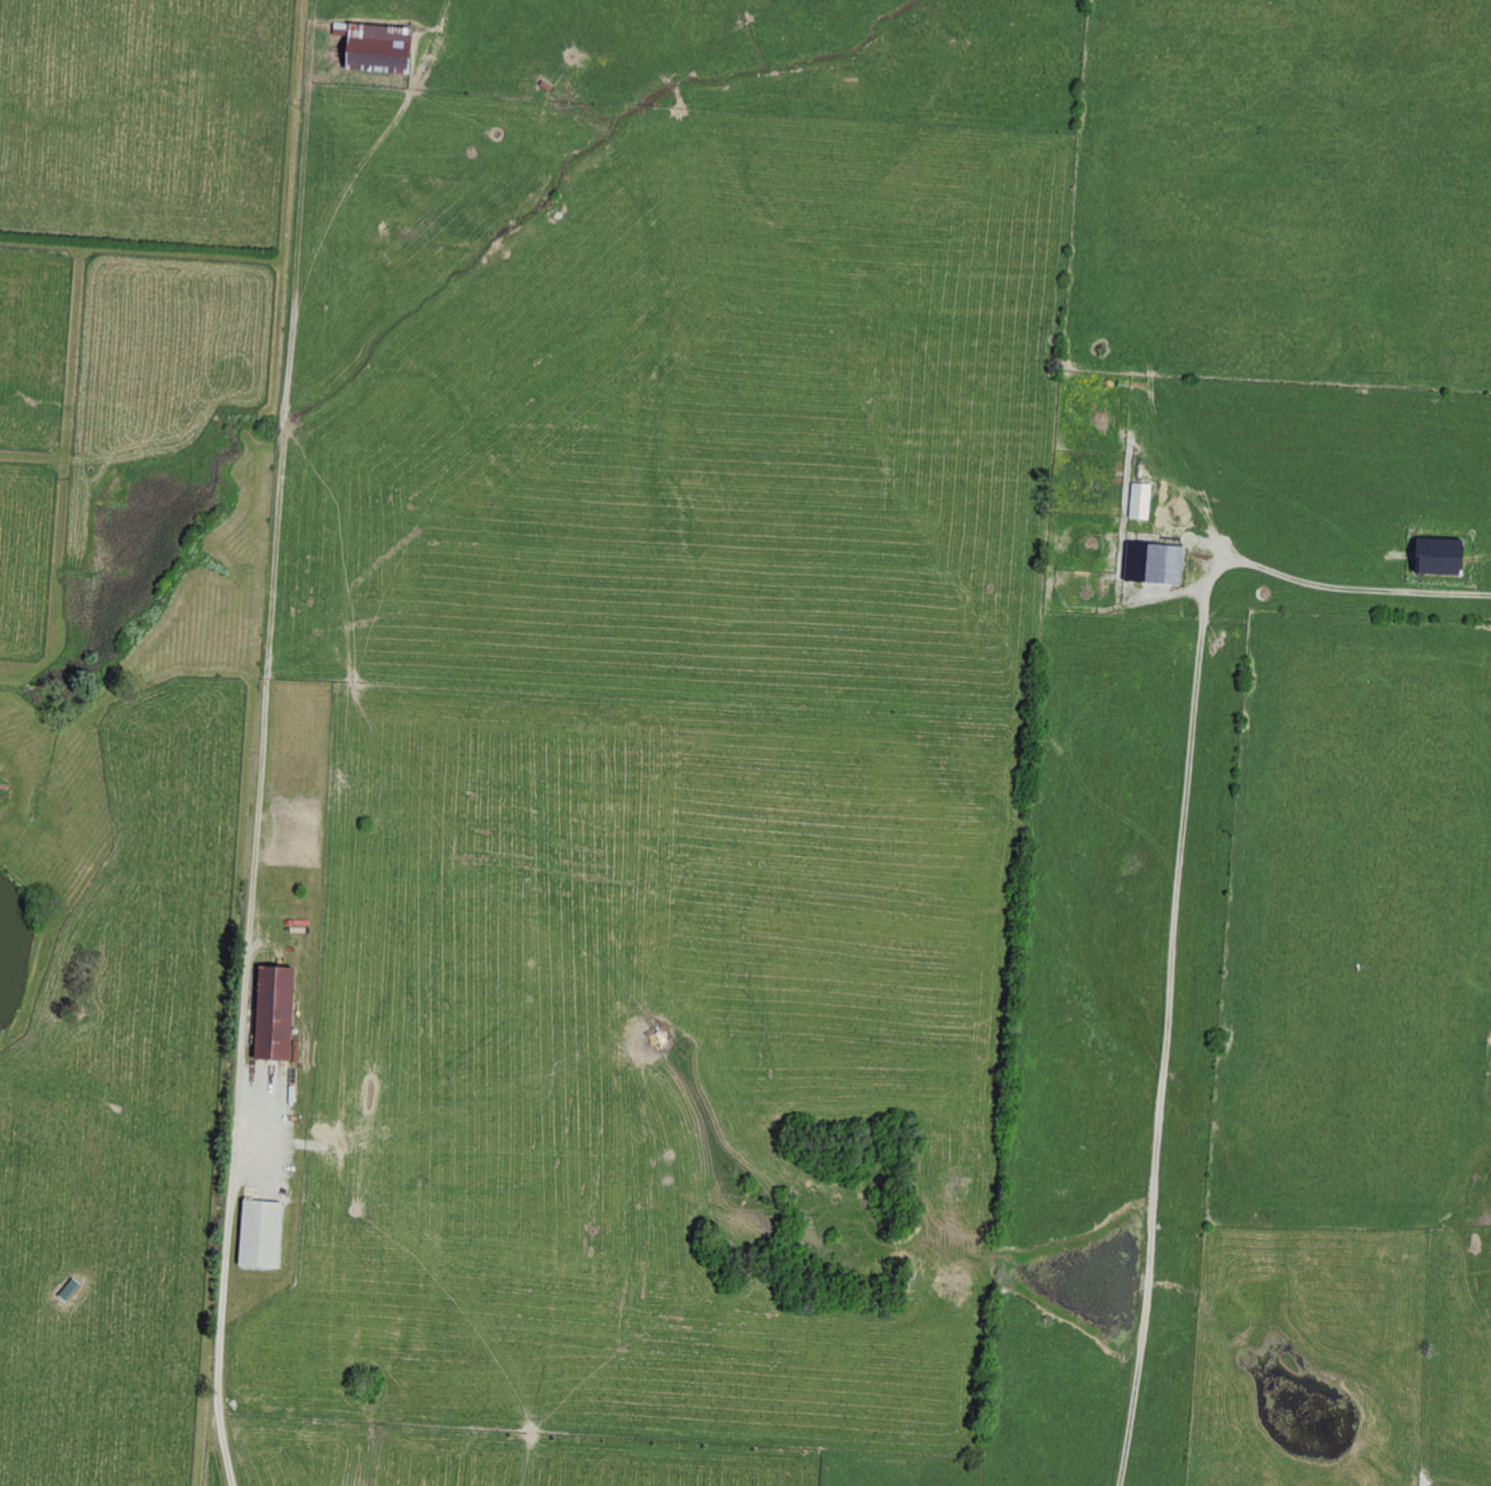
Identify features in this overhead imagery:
building: (374, 49)
building: (1139, 502)
building: (1437, 558)
building: (1150, 565)
road: (1177, 887)
building: (272, 1013)
road: (240, 1035)
building: (258, 1234)
building: (68, 1290)

